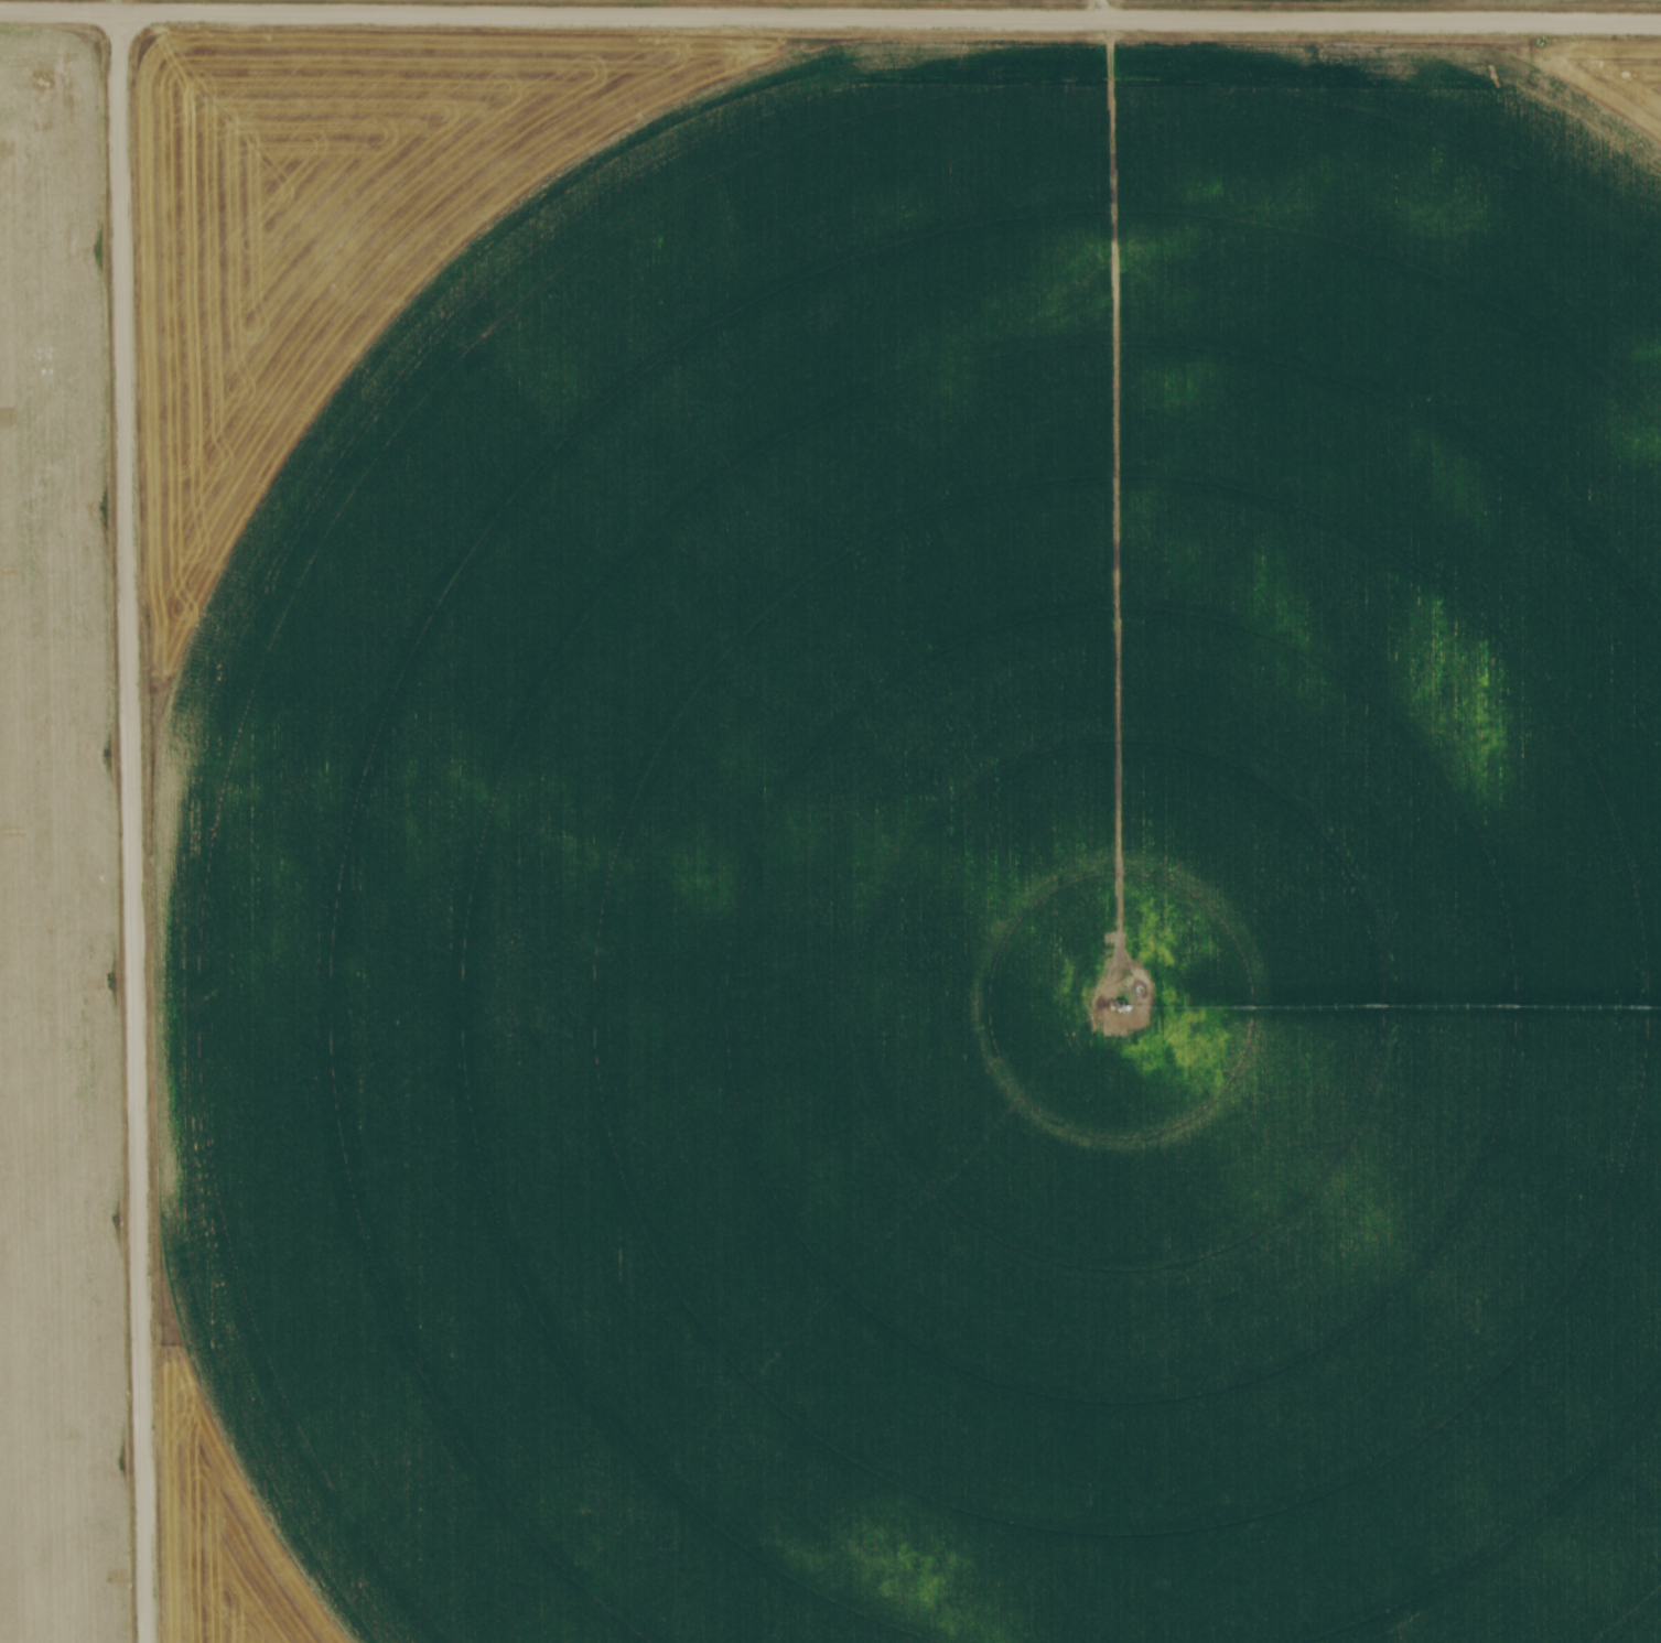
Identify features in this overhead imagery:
road: (830, 22)
road: (134, 830)

